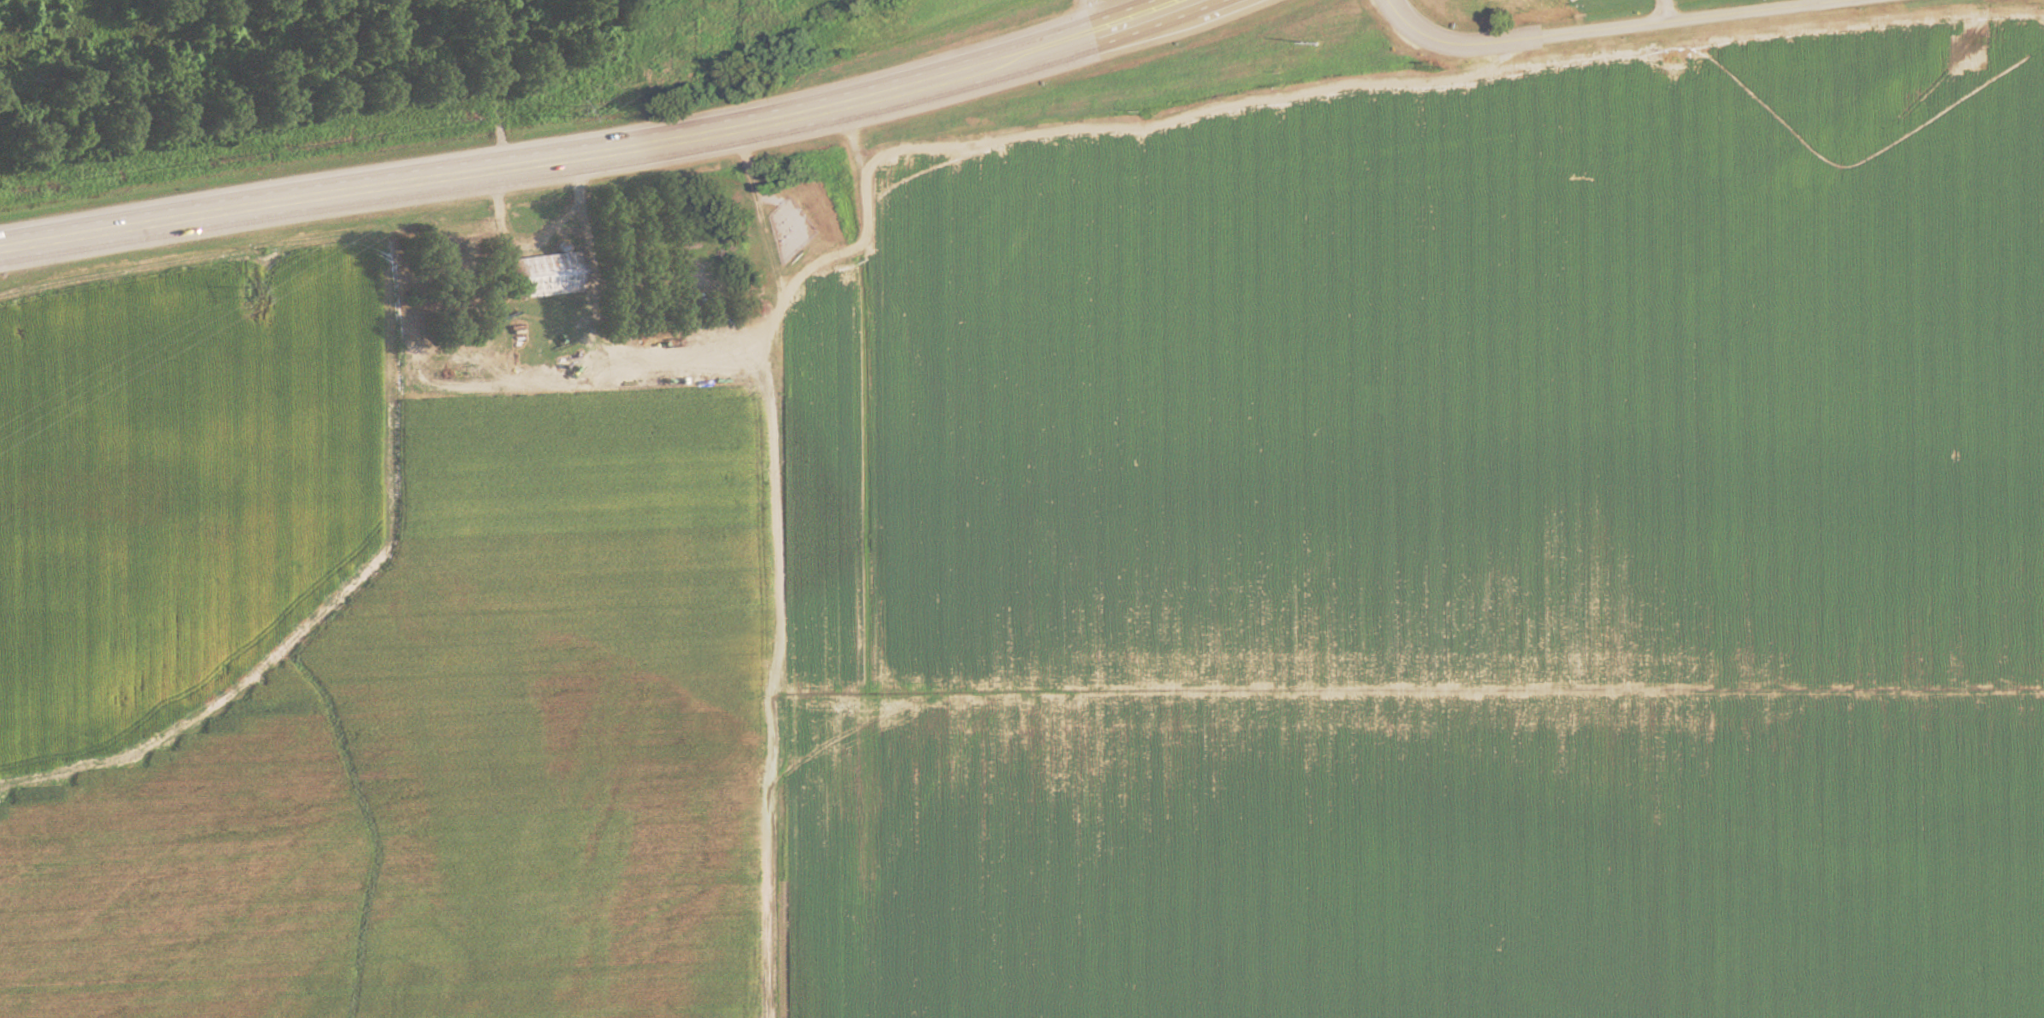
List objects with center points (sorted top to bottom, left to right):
road: (1622, 34)
road: (962, 64)
road: (1000, 77)
road: (380, 186)
building: (545, 277)
power tower: (246, 294)

